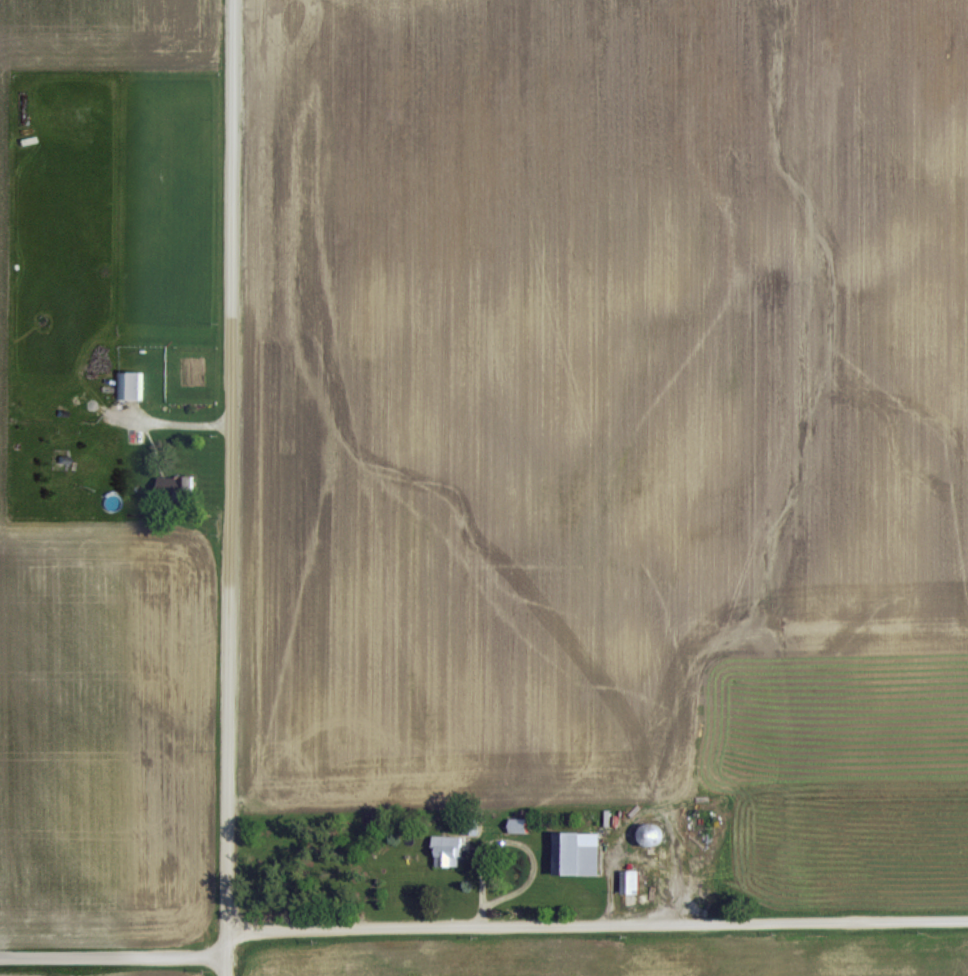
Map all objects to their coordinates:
building: (125, 384)
road: (173, 420)
road: (230, 488)
building: (445, 848)
building: (574, 852)
building: (628, 878)
road: (481, 927)

